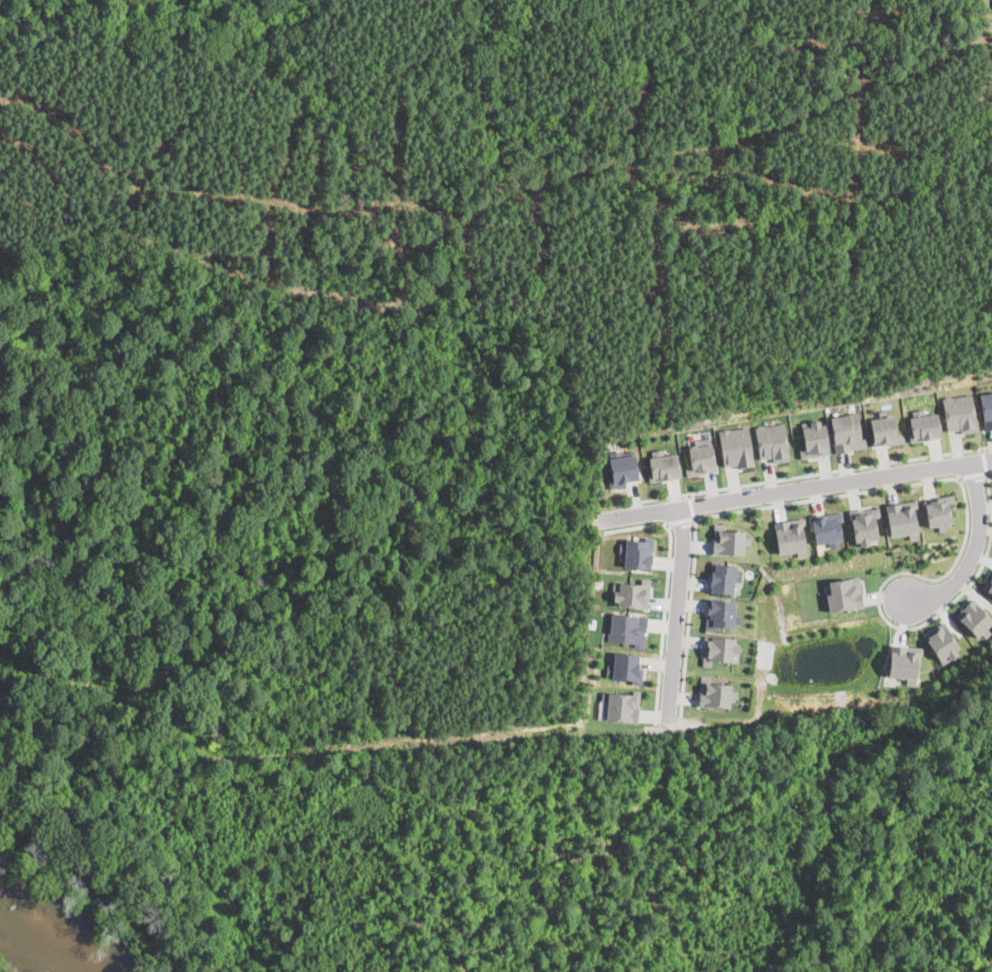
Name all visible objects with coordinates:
building: (987, 409)
building: (960, 413)
building: (924, 425)
building: (884, 430)
building: (846, 432)
building: (815, 439)
building: (772, 442)
building: (736, 446)
building: (701, 459)
road: (984, 459)
building: (663, 465)
building: (622, 467)
road: (989, 471)
road: (972, 474)
road: (798, 475)
road: (942, 477)
road: (794, 488)
road: (691, 505)
building: (939, 510)
building: (901, 518)
road: (679, 521)
building: (864, 524)
building: (827, 528)
building: (789, 535)
building: (728, 540)
road: (973, 550)
building: (638, 552)
building: (722, 577)
building: (988, 582)
road: (666, 590)
building: (632, 593)
building: (844, 593)
road: (674, 613)
building: (720, 613)
building: (974, 617)
building: (627, 628)
building: (941, 641)
building: (719, 649)
building: (904, 662)
building: (625, 666)
building: (715, 693)
building: (621, 705)
river: (51, 936)

